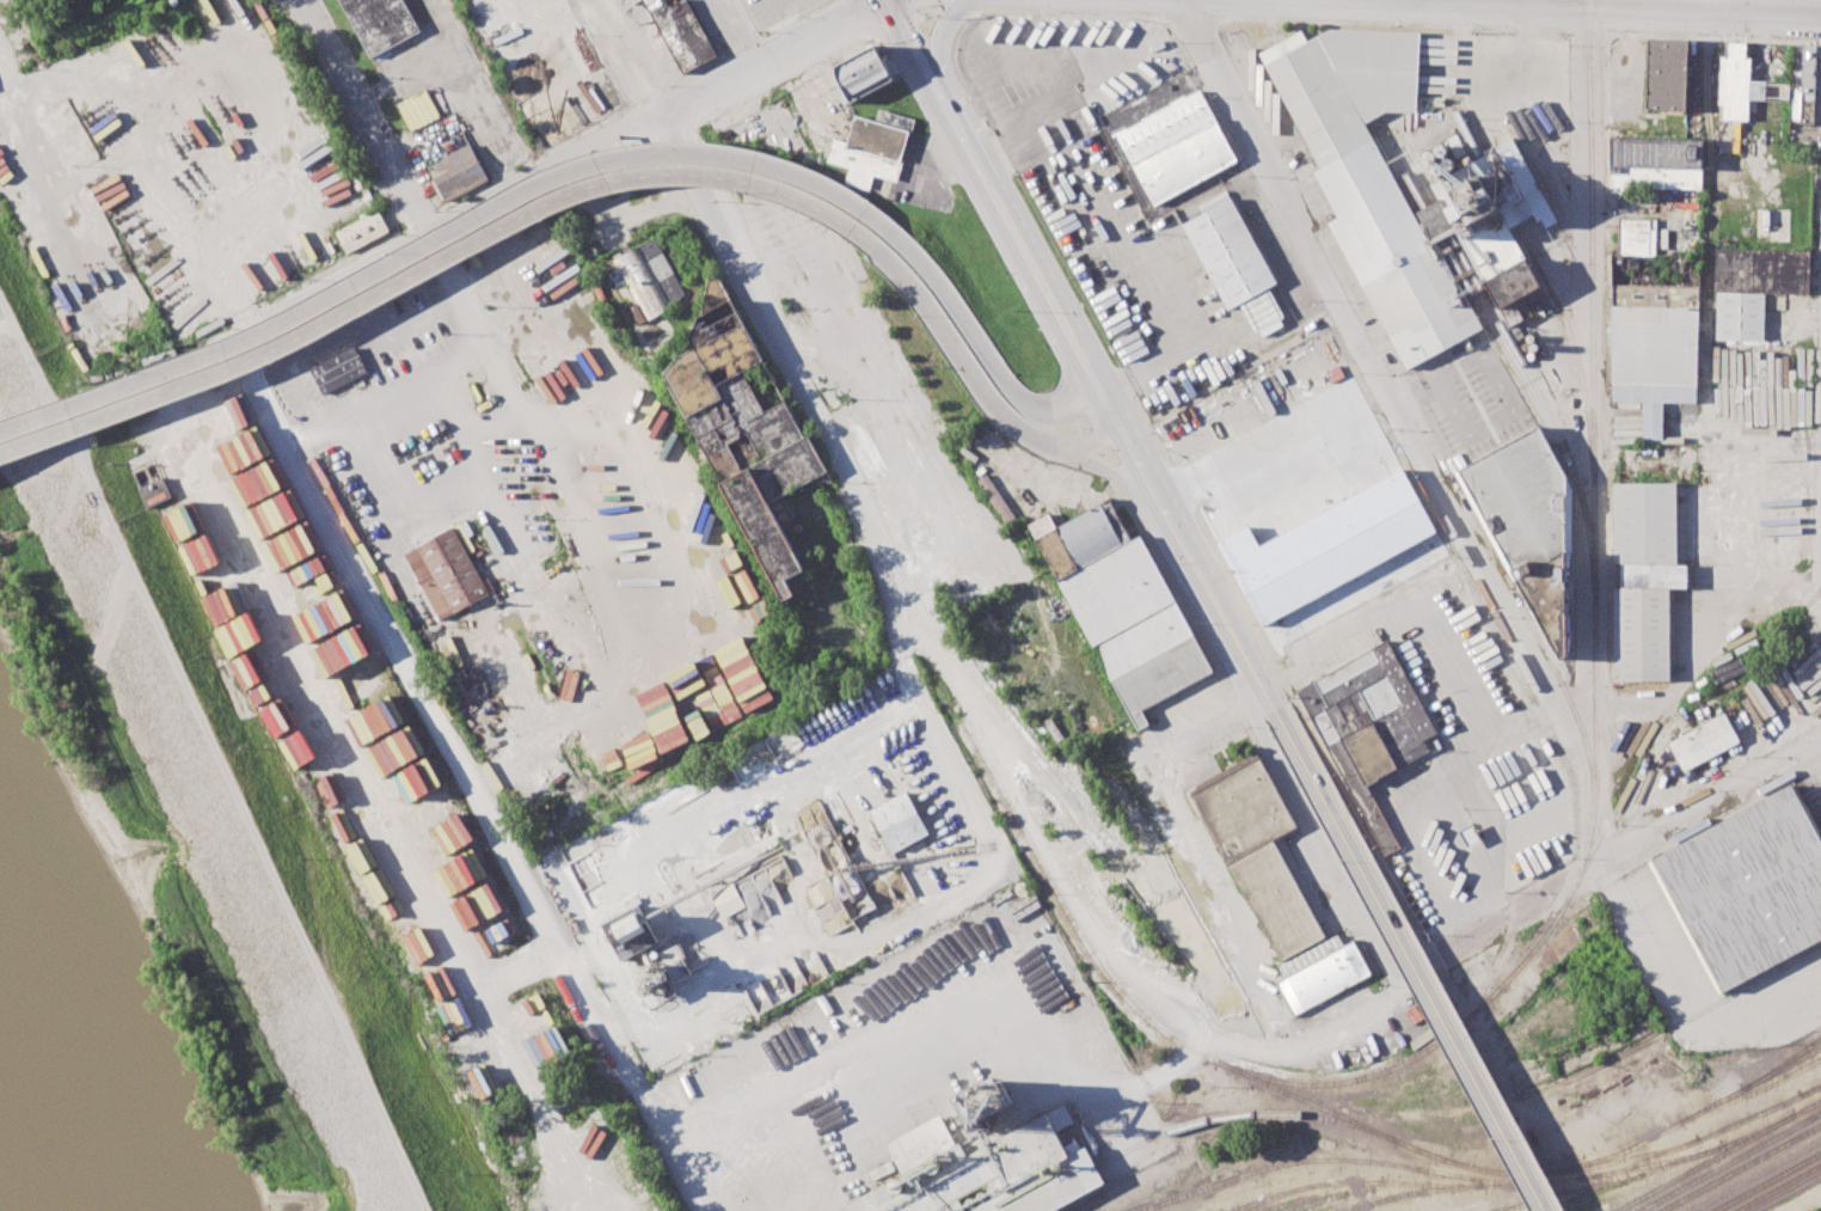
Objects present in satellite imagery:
road: (1439, 2)
road: (1458, 5)
road: (1572, 5)
road: (1710, 7)
road: (1707, 13)
building: (382, 23)
road: (753, 31)
building: (681, 32)
building: (1041, 39)
road: (1130, 42)
building: (1011, 45)
road: (630, 60)
parking lot: (1069, 66)
building: (1805, 71)
building: (863, 72)
road: (1124, 74)
building: (1664, 75)
road: (1055, 77)
road: (981, 82)
building: (1733, 82)
road: (964, 105)
road: (372, 121)
building: (1054, 124)
building: (1177, 146)
building: (872, 147)
building: (1654, 165)
building: (459, 171)
building: (1369, 172)
street lamp: (736, 192)
road: (177, 206)
road: (998, 206)
building: (1778, 225)
building: (363, 231)
road: (440, 236)
building: (1632, 236)
road: (447, 237)
building: (1234, 262)
road: (434, 263)
building: (1761, 270)
building: (650, 279)
parking lot: (1145, 281)
railway: (1547, 286)
building: (1654, 294)
road: (1165, 298)
road: (476, 314)
building: (1739, 314)
street lamp: (915, 317)
railway: (1497, 318)
road: (985, 353)
building: (1653, 353)
road: (460, 360)
railway: (1510, 363)
building: (336, 369)
road: (1411, 385)
railway: (1592, 389)
road: (388, 395)
road: (1599, 396)
road: (1124, 398)
road: (1512, 414)
road: (453, 421)
road: (493, 423)
road: (1019, 426)
road: (320, 427)
building: (741, 429)
road: (1411, 435)
road: (1090, 441)
road: (841, 454)
street lamp: (1049, 461)
road: (317, 487)
road: (1157, 488)
building: (1519, 499)
road: (495, 500)
building: (1644, 522)
building: (1079, 537)
road: (1203, 552)
building: (447, 571)
building: (1653, 575)
building: (1115, 589)
road: (1405, 601)
road: (612, 626)
road: (1293, 628)
building: (1641, 634)
building: (1144, 638)
building: (467, 658)
railway: (1551, 663)
building: (1158, 678)
road: (1268, 695)
road: (1547, 712)
railway: (1666, 722)
building: (1369, 723)
road: (1513, 728)
building: (1704, 741)
road: (228, 745)
road: (1709, 805)
building: (1241, 807)
building: (899, 821)
road: (1313, 824)
road: (1599, 825)
railway: (1588, 840)
road: (1190, 851)
road: (505, 858)
street lamp: (1341, 863)
building: (829, 870)
building: (1748, 889)
building: (728, 900)
building: (1282, 907)
road: (1497, 923)
road: (1100, 930)
building: (630, 932)
building: (1322, 978)
road: (948, 1005)
road: (1441, 1017)
road: (1271, 1053)
railway: (1421, 1053)
railway: (1786, 1059)
railway: (1233, 1070)
railway: (1558, 1082)
railway: (1817, 1087)
railway: (1753, 1091)
river: (50, 1111)
railway: (1691, 1115)
railway: (1243, 1117)
road: (664, 1119)
railway: (1712, 1134)
street lamp: (1490, 1138)
road: (838, 1140)
railway: (1777, 1144)
railway: (1717, 1155)
railway: (1329, 1158)
railway: (1729, 1161)
road: (689, 1164)
railway: (1666, 1166)
railway: (1741, 1168)
building: (982, 1173)
railway: (1766, 1181)
railway: (1522, 1185)
railway: (1778, 1187)
railway: (1287, 1192)
railway: (1415, 1192)
railway: (1568, 1192)
railway: (1339, 1193)
railway: (1310, 1197)
railway: (1556, 1205)

